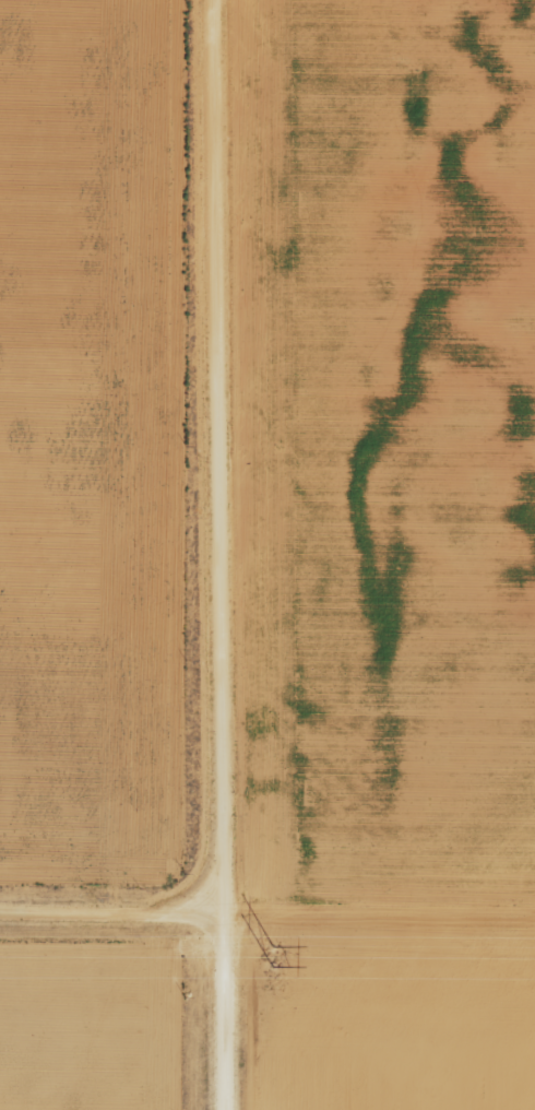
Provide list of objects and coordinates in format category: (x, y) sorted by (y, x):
road: (215, 554)
road: (175, 866)
road: (68, 902)
road: (174, 904)
power tower: (264, 944)

